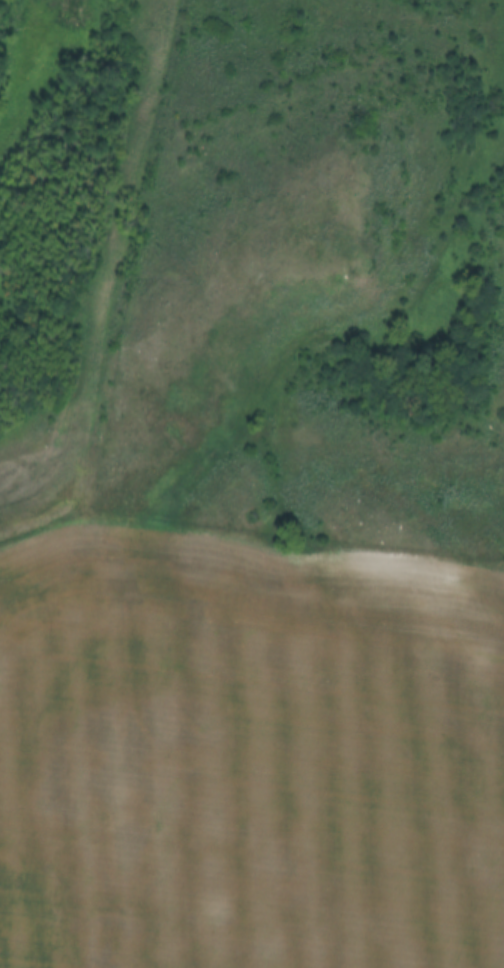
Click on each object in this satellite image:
road: (110, 279)

